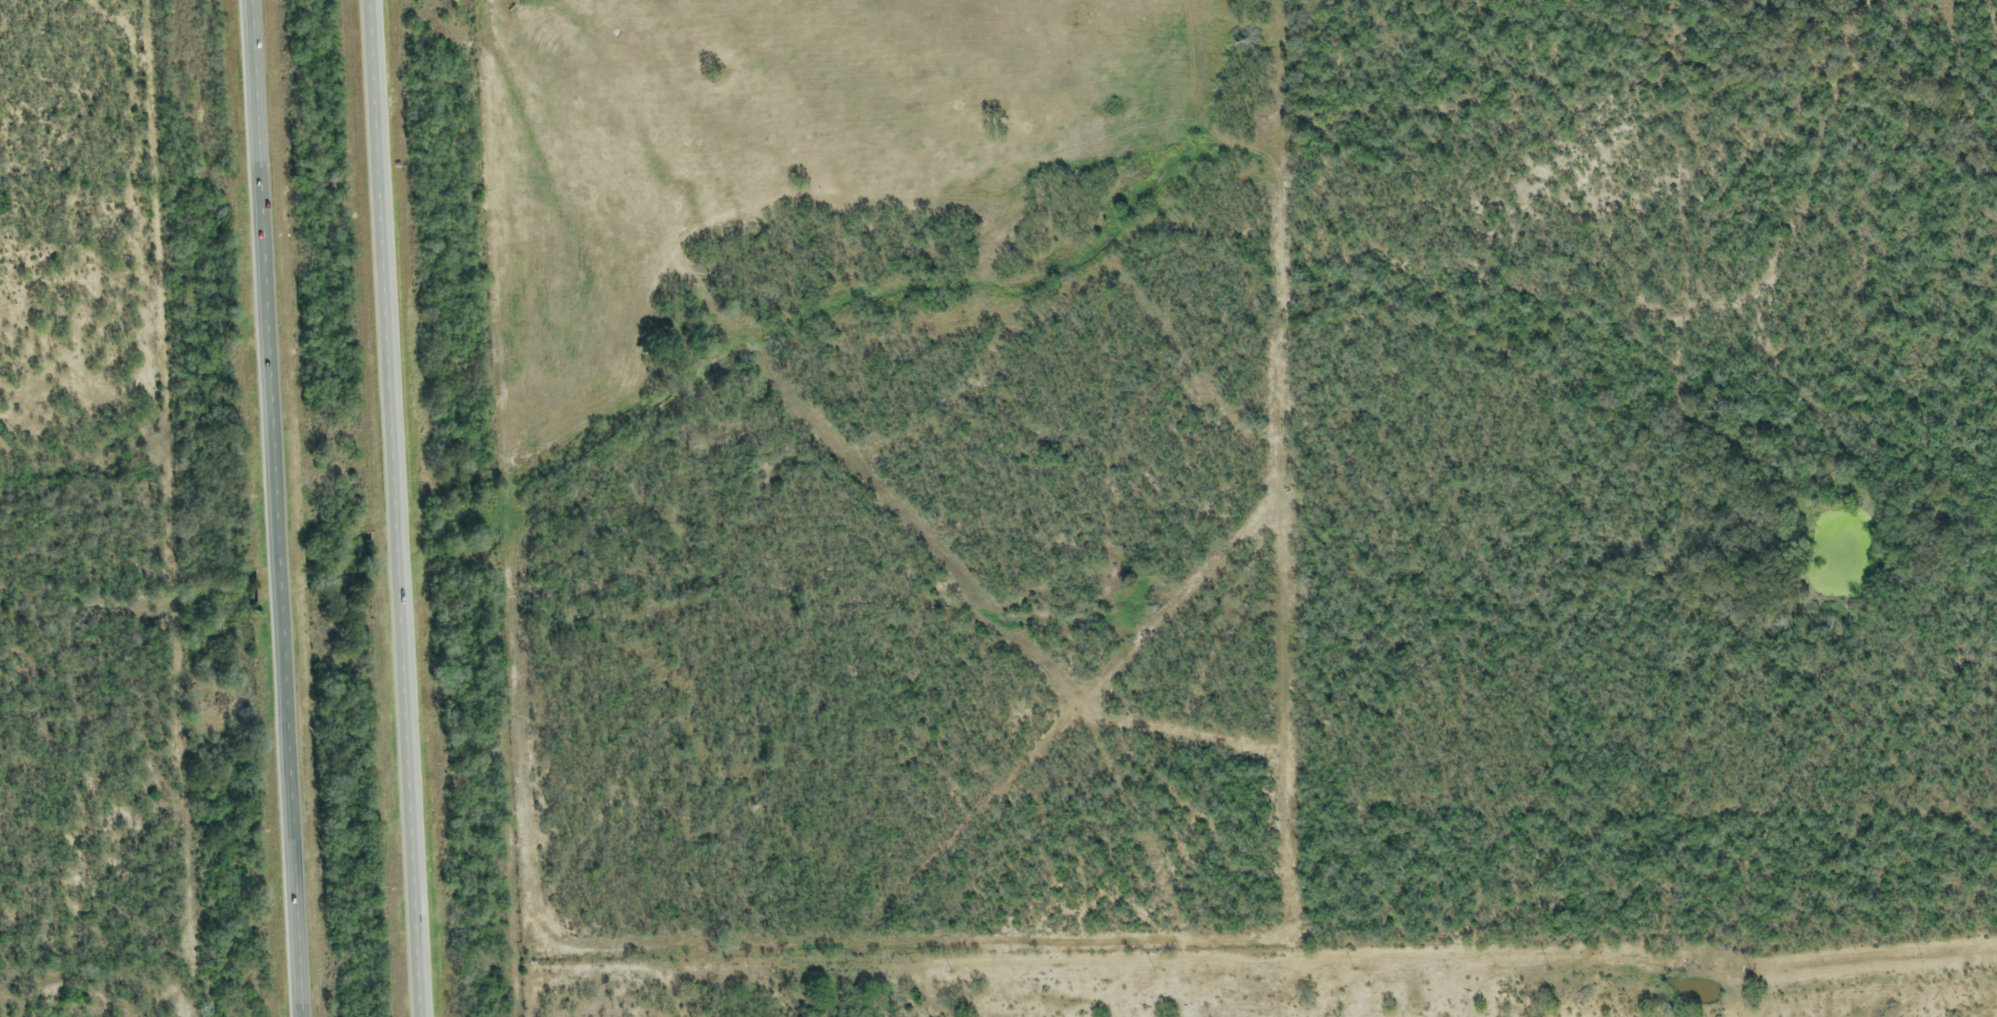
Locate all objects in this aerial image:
road: (286, 508)
road: (407, 508)

